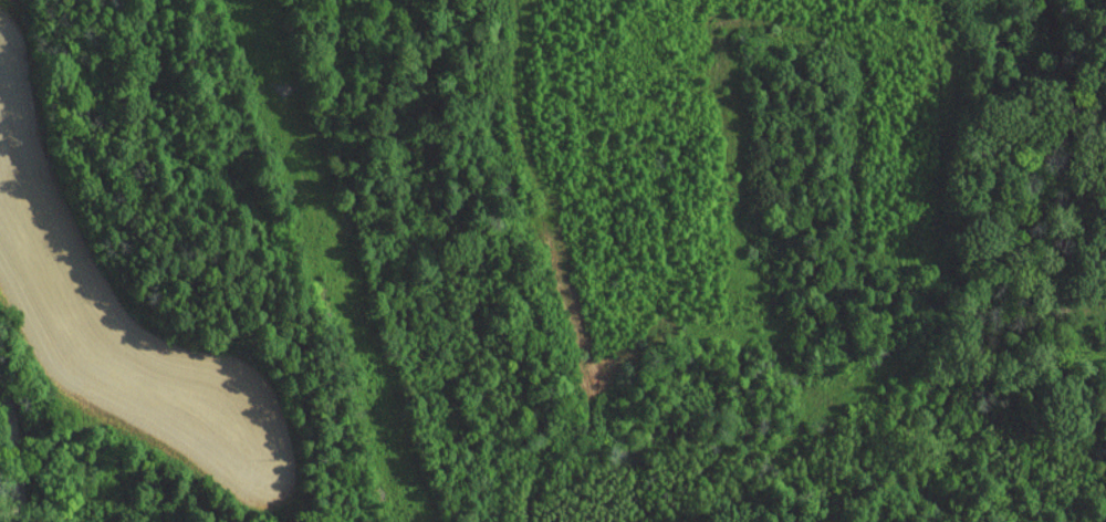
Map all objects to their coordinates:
road: (18, 456)

